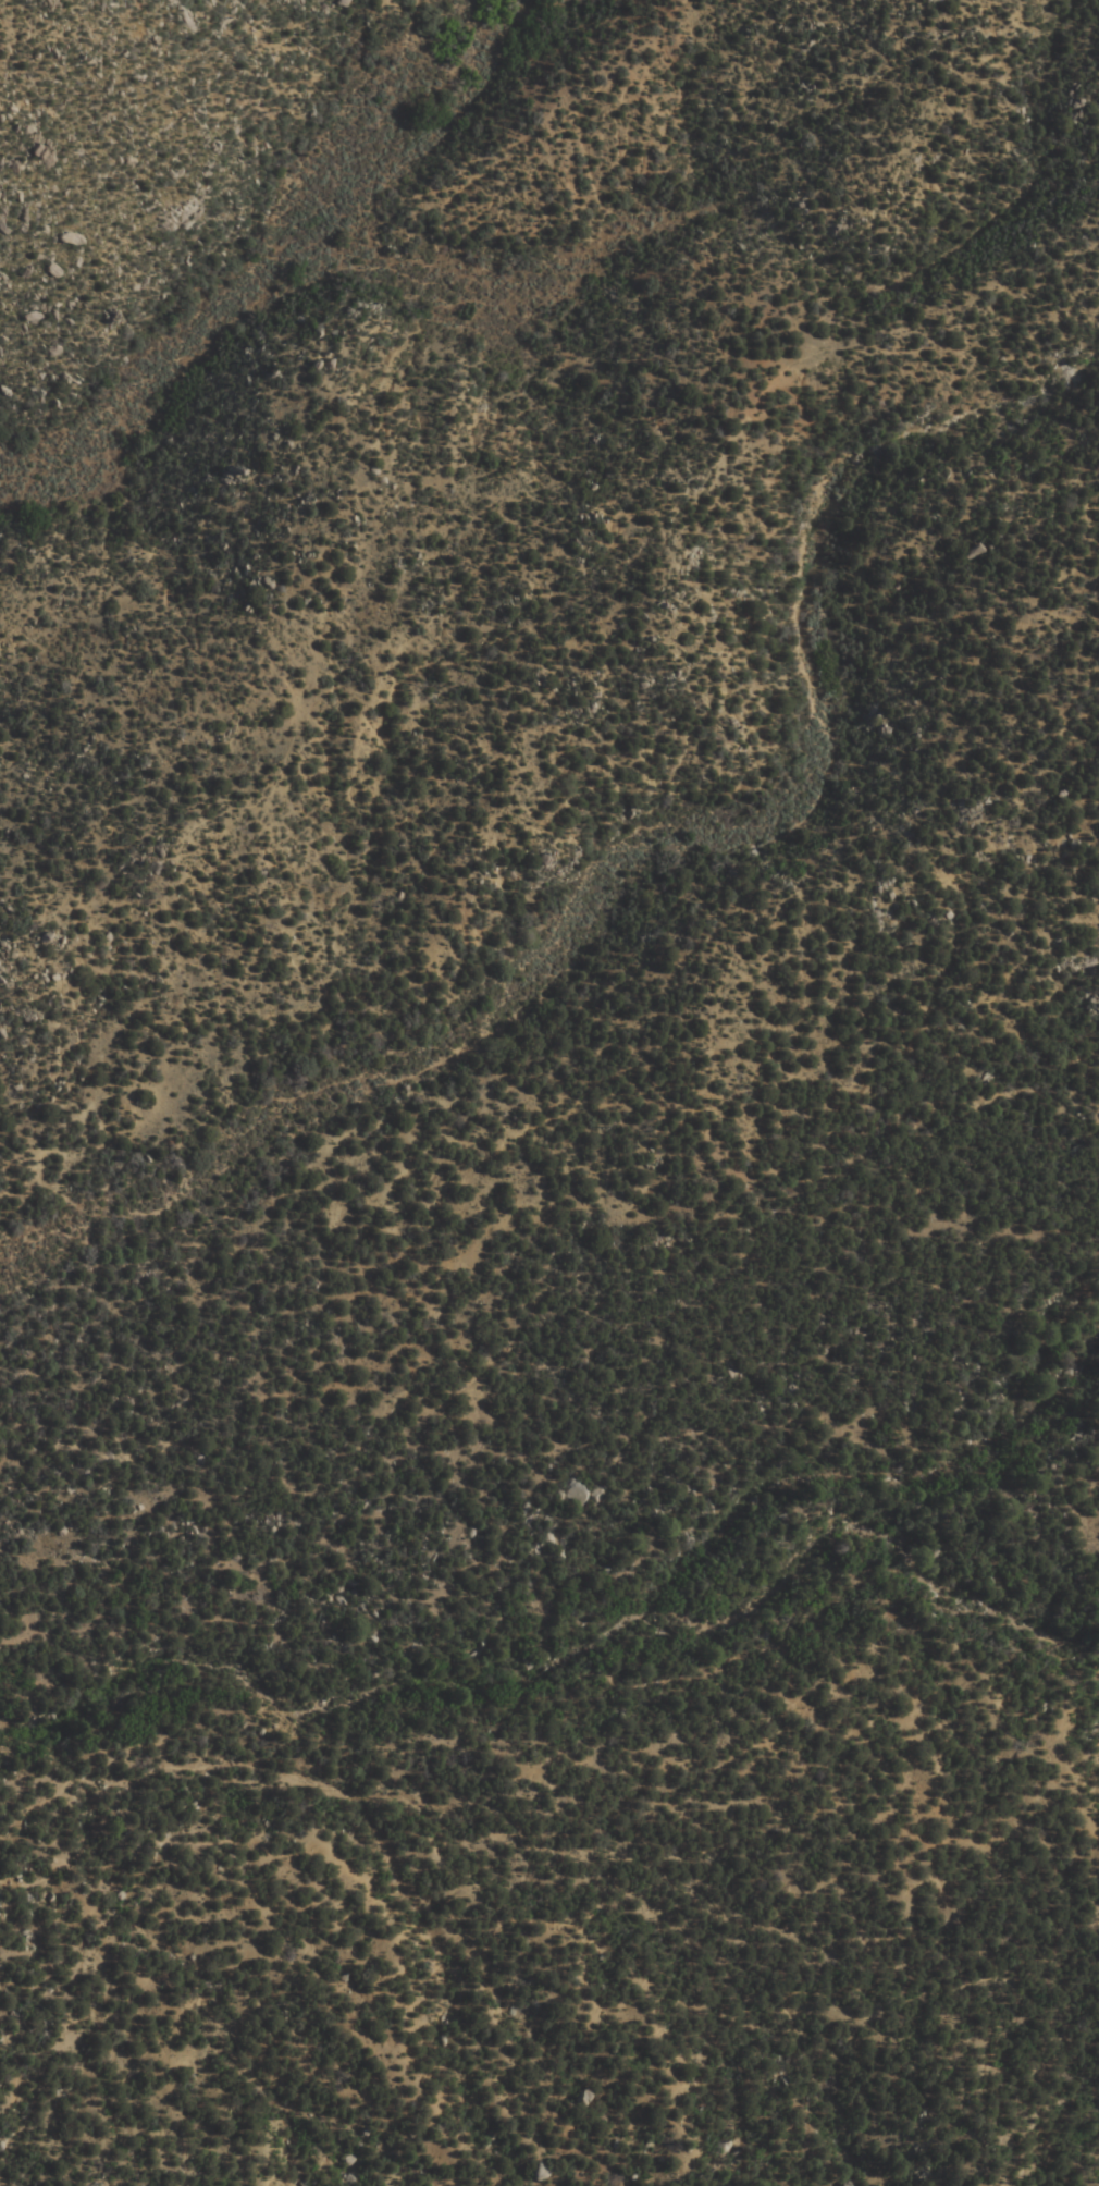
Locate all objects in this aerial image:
road: (547, 1921)

